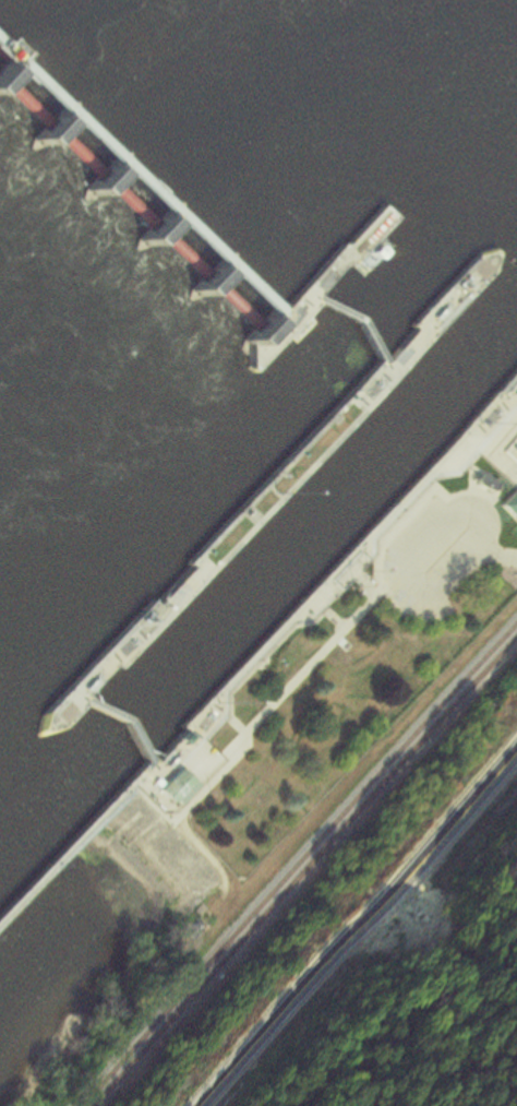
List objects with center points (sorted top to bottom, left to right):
building: (1, 71)
river: (496, 320)
building: (476, 481)
building: (504, 500)
river: (297, 535)
parking lot: (426, 544)
road: (500, 556)
river: (59, 774)
building: (167, 786)
railway: (299, 863)
railway: (309, 870)
road: (362, 929)

